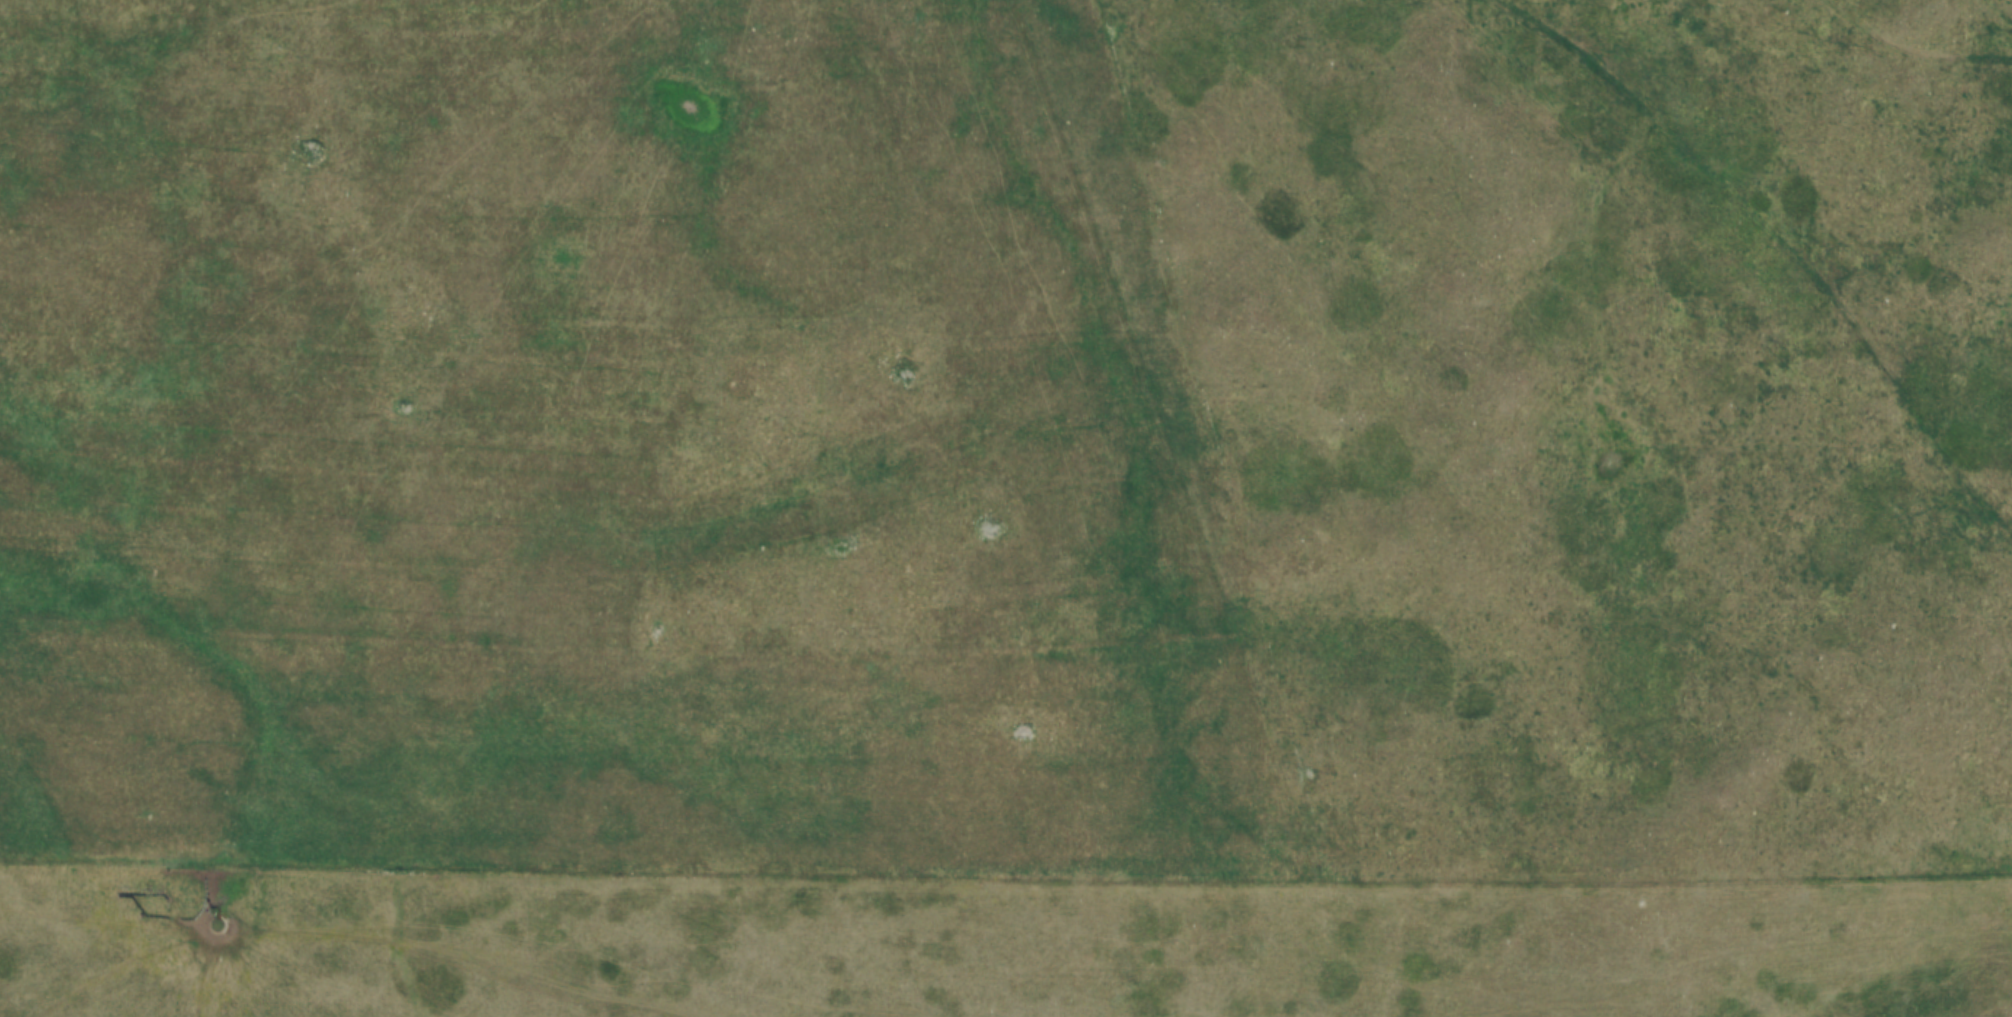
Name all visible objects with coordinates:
road: (1938, 44)

